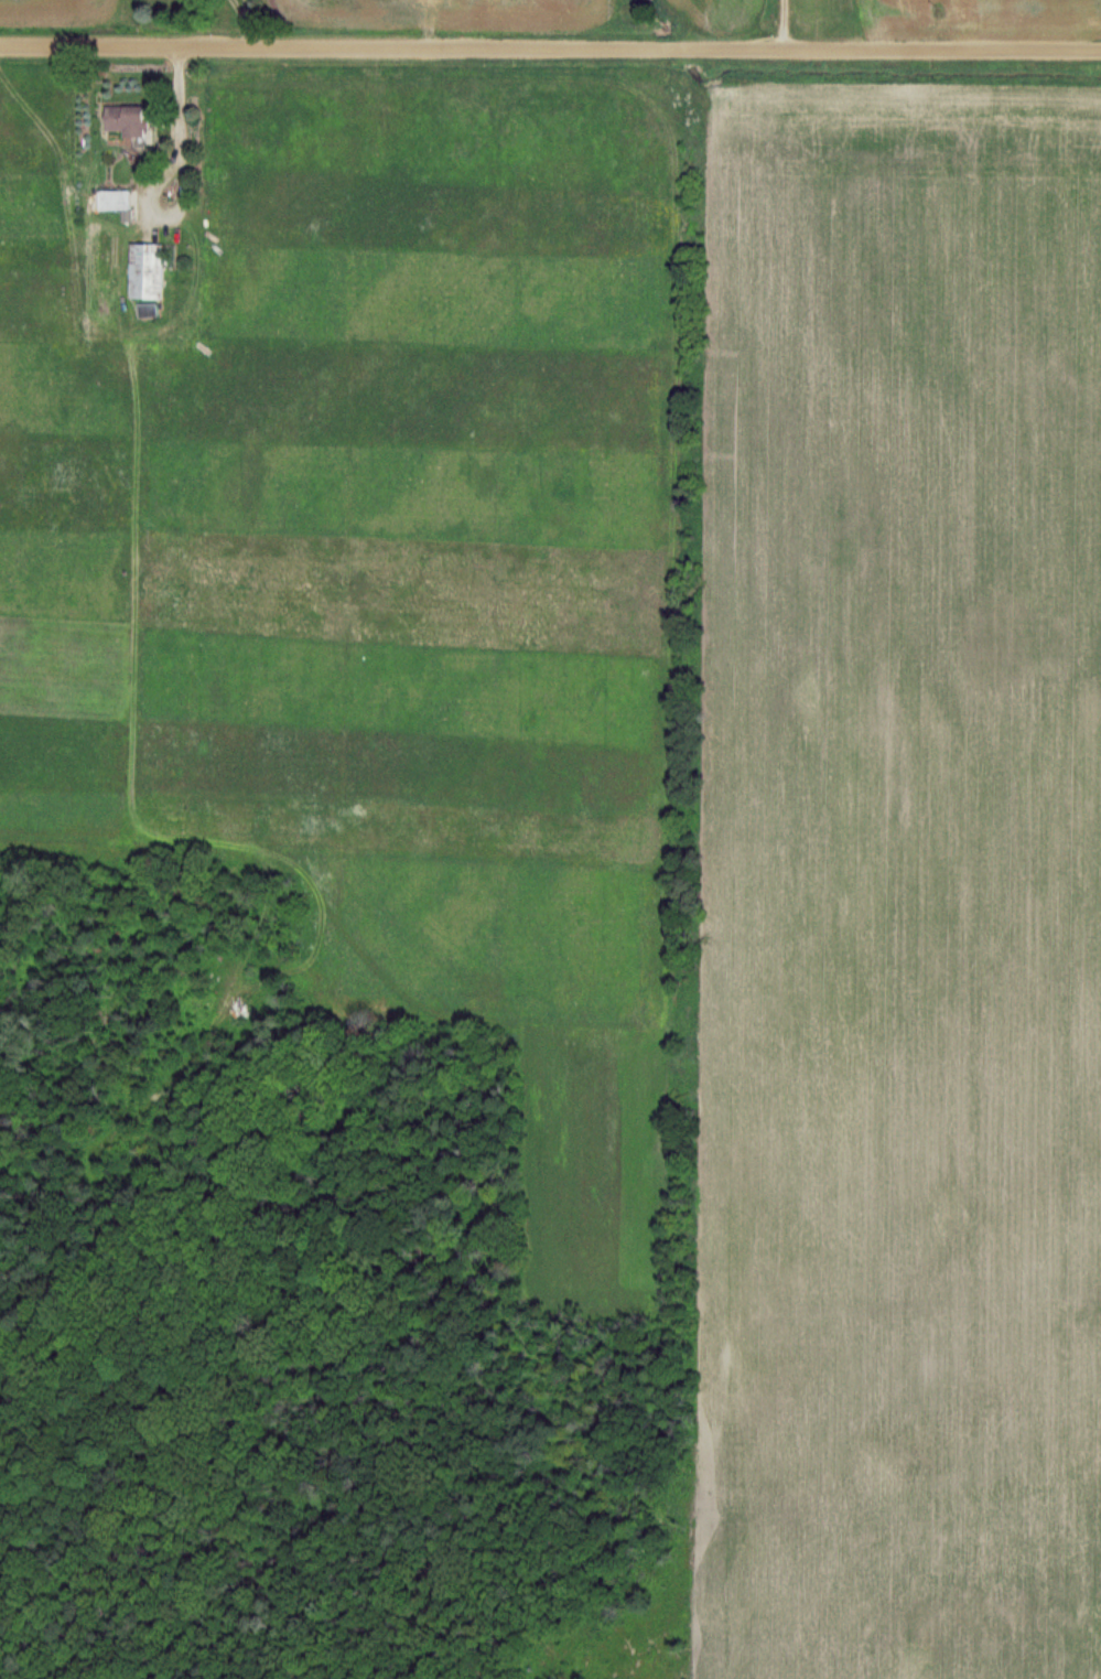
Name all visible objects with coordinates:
road: (781, 25)
road: (550, 50)
building: (131, 119)
road: (179, 122)
building: (118, 200)
building: (150, 271)

